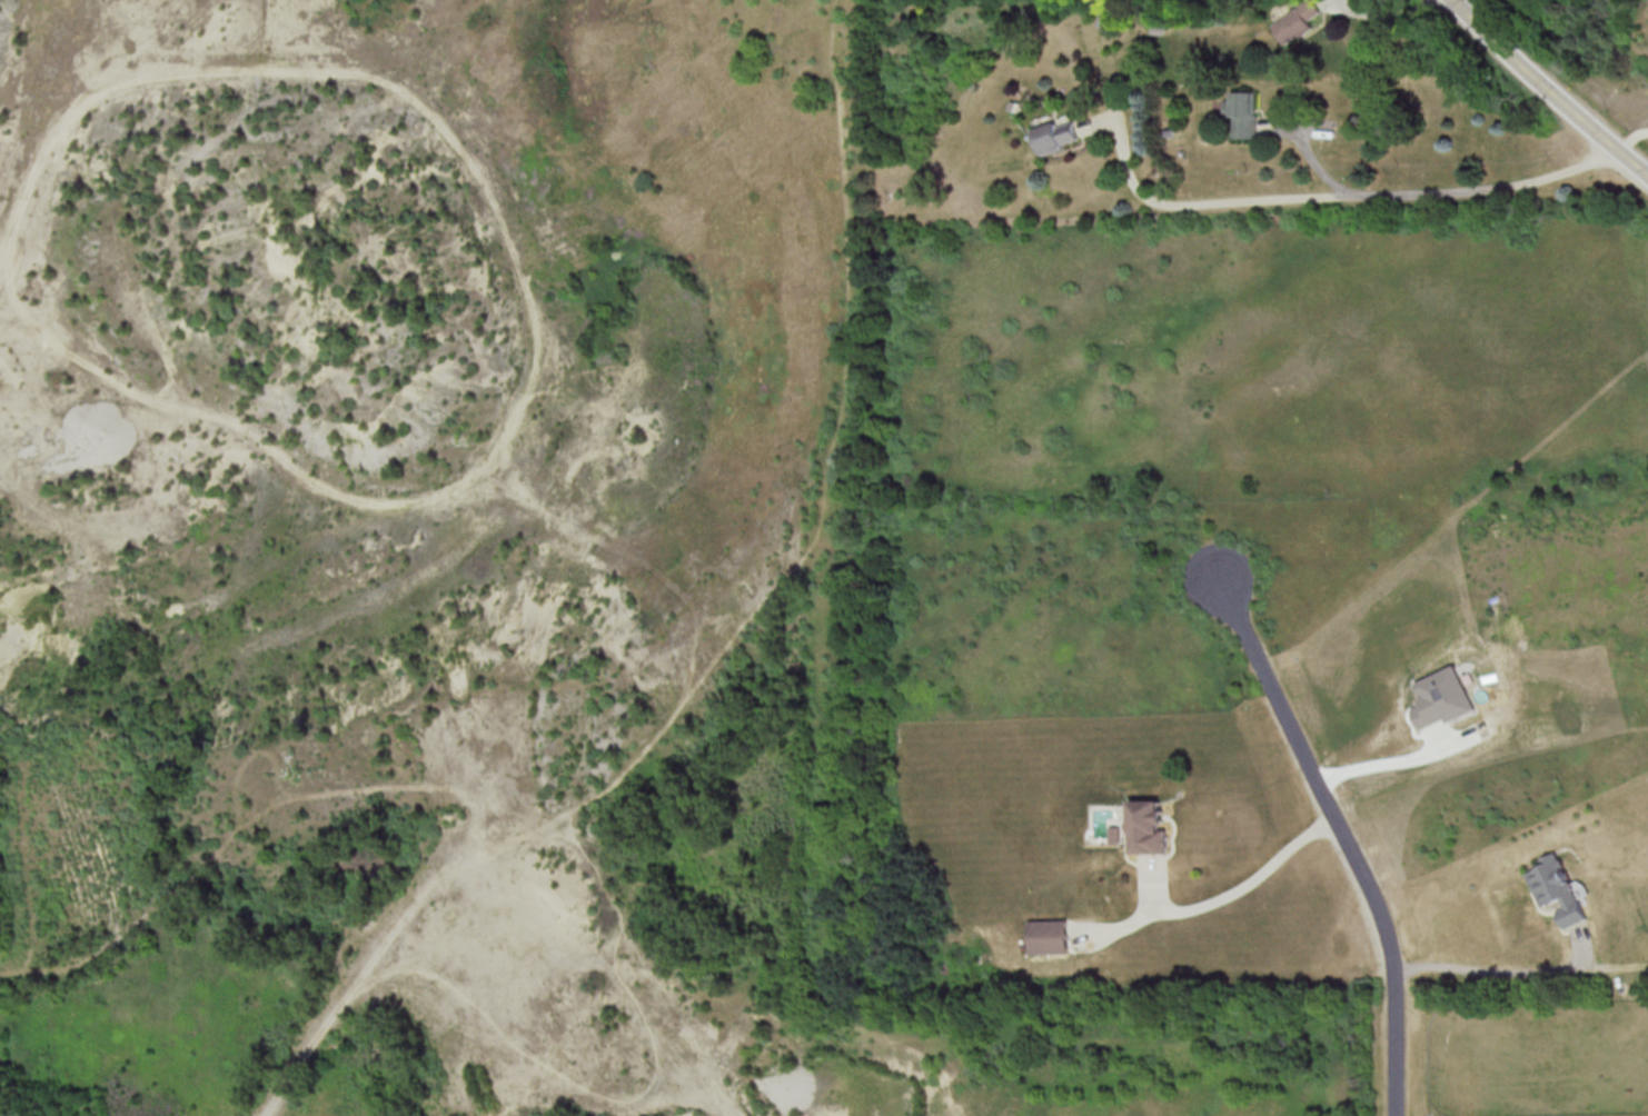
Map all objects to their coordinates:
road: (1387, 14)
building: (1291, 22)
road: (1548, 89)
building: (1240, 113)
building: (1051, 134)
road: (1631, 138)
road: (1334, 193)
building: (1152, 826)
road: (1346, 839)
road: (1251, 881)
building: (1560, 888)
building: (1051, 936)
road: (1480, 970)

